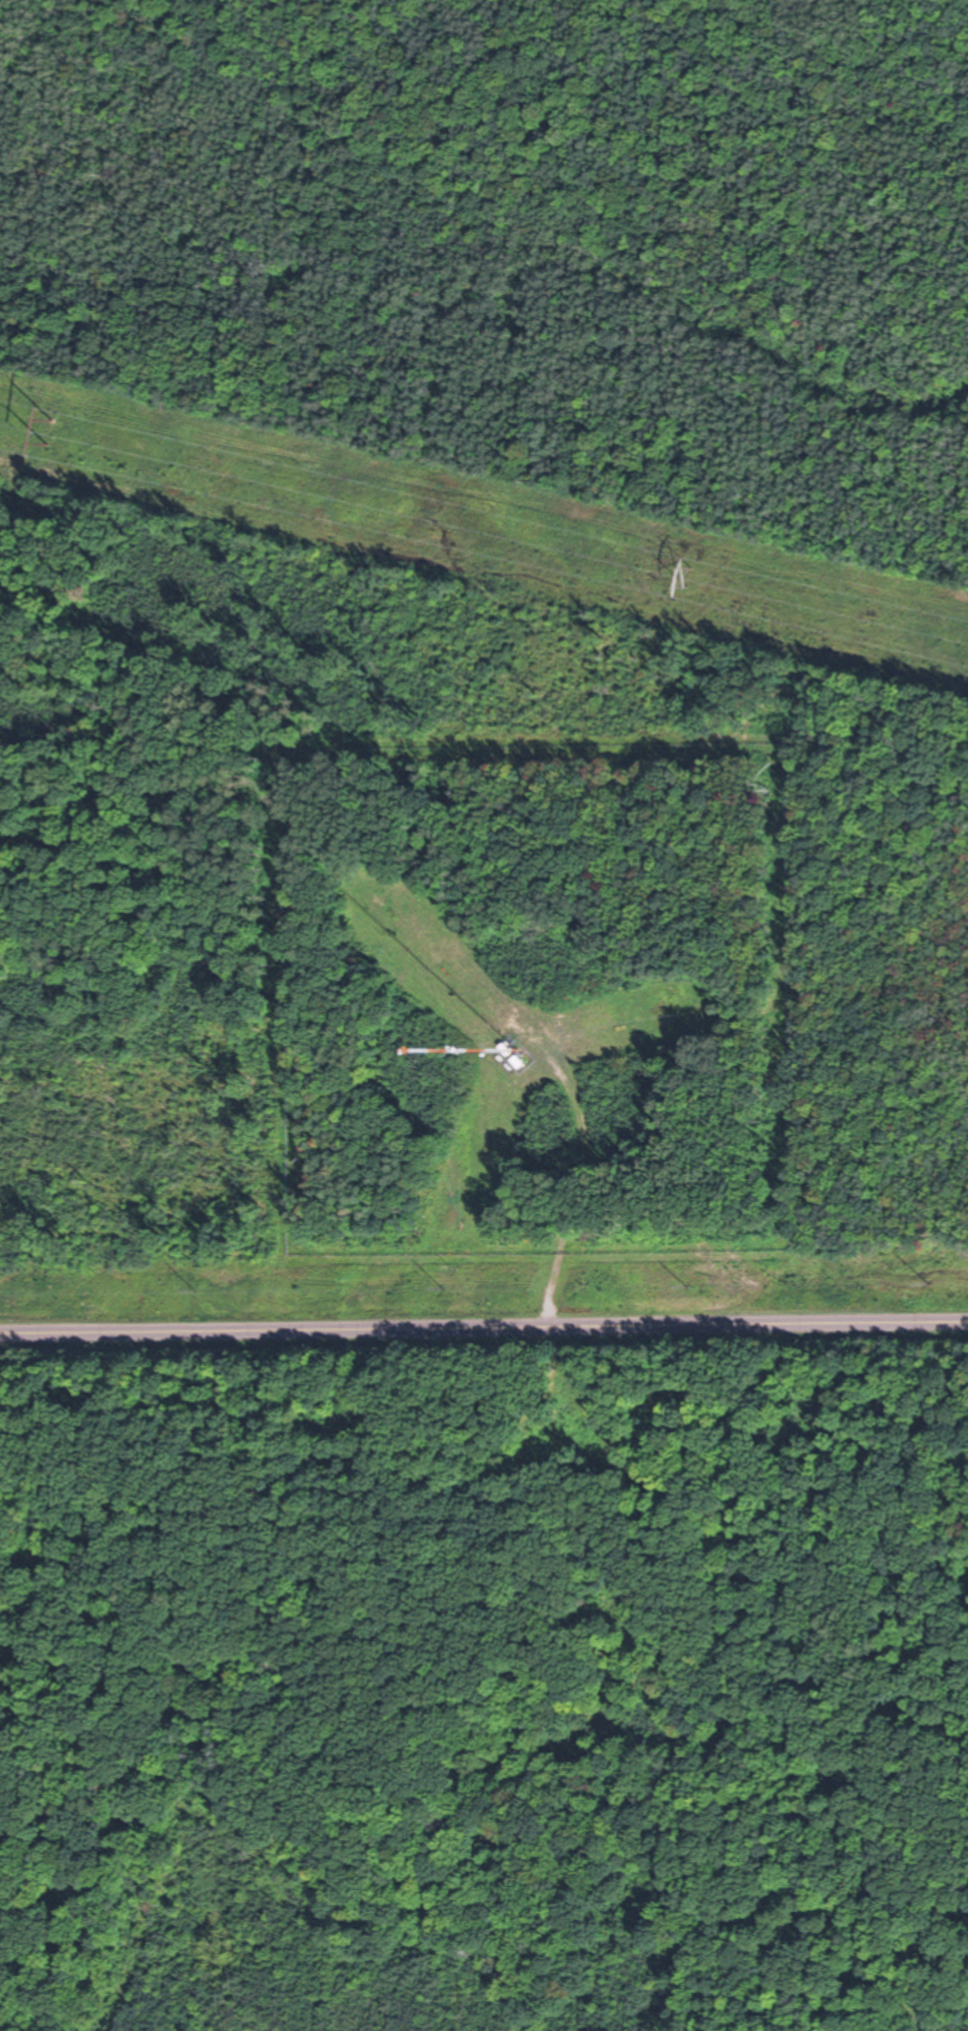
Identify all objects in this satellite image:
power tower: (51, 431)
power tower: (692, 578)
road: (484, 1330)

